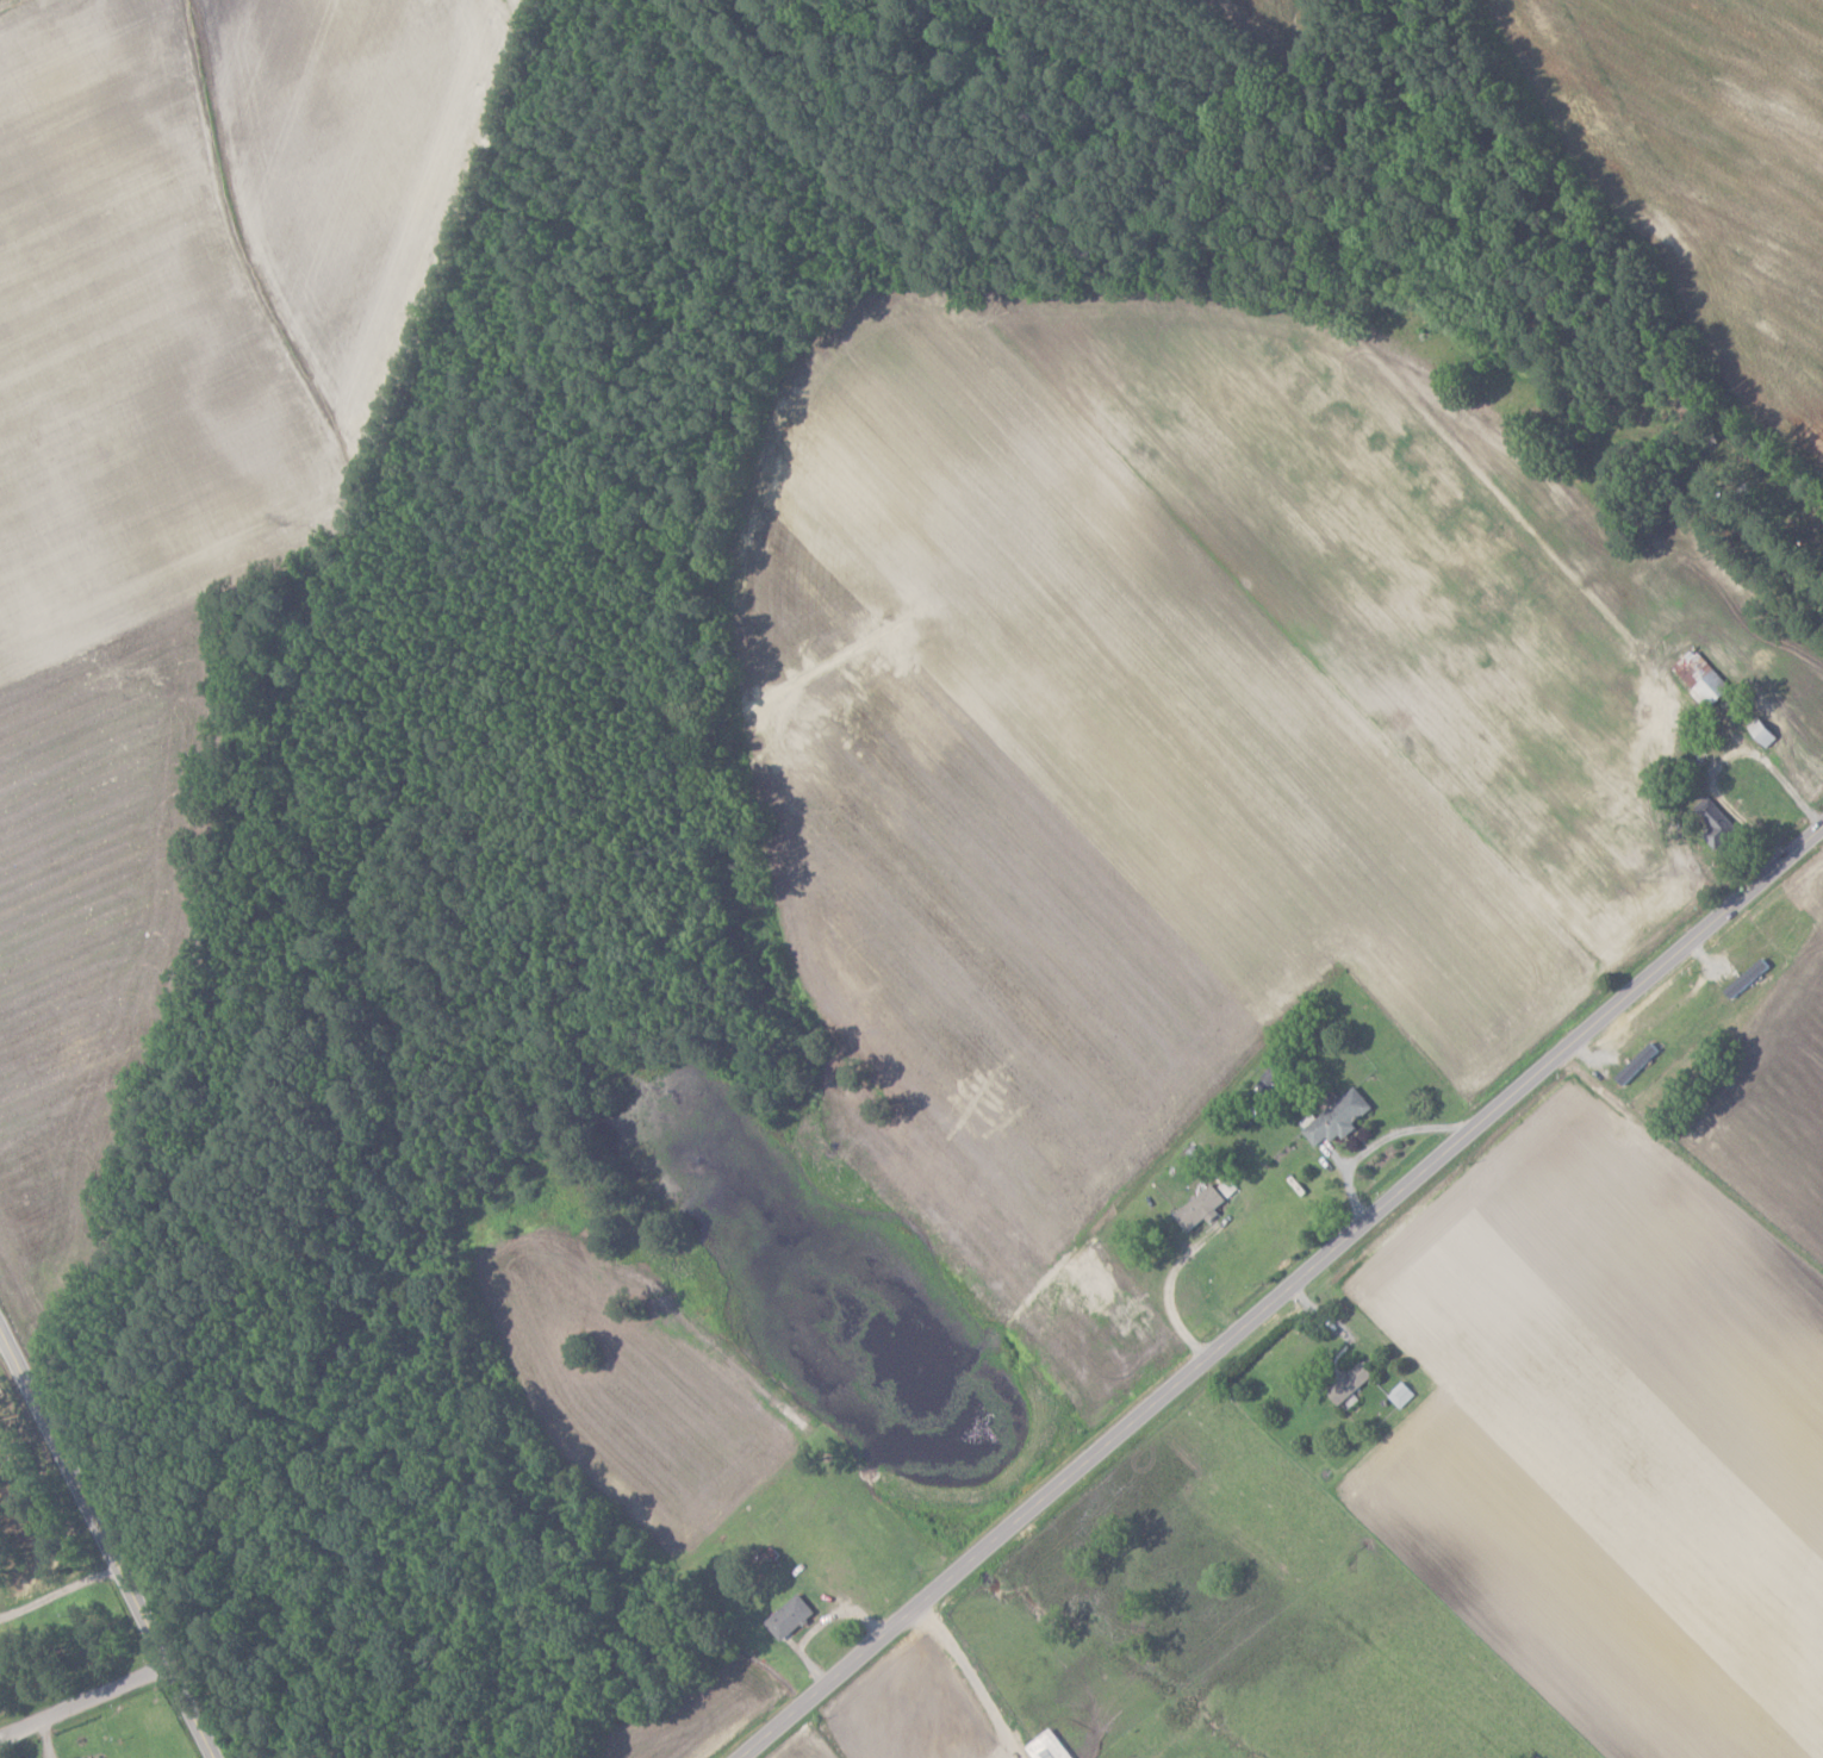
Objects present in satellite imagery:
building: (1703, 679)
building: (1768, 729)
road: (1723, 759)
building: (1713, 827)
building: (1339, 1117)
building: (1203, 1207)
road: (1283, 1293)
road: (1162, 1295)
building: (1352, 1383)
road: (104, 1542)
road: (57, 1591)
building: (791, 1616)
road: (972, 1679)
road: (82, 1706)
building: (1050, 1746)
building: (102, 1757)

